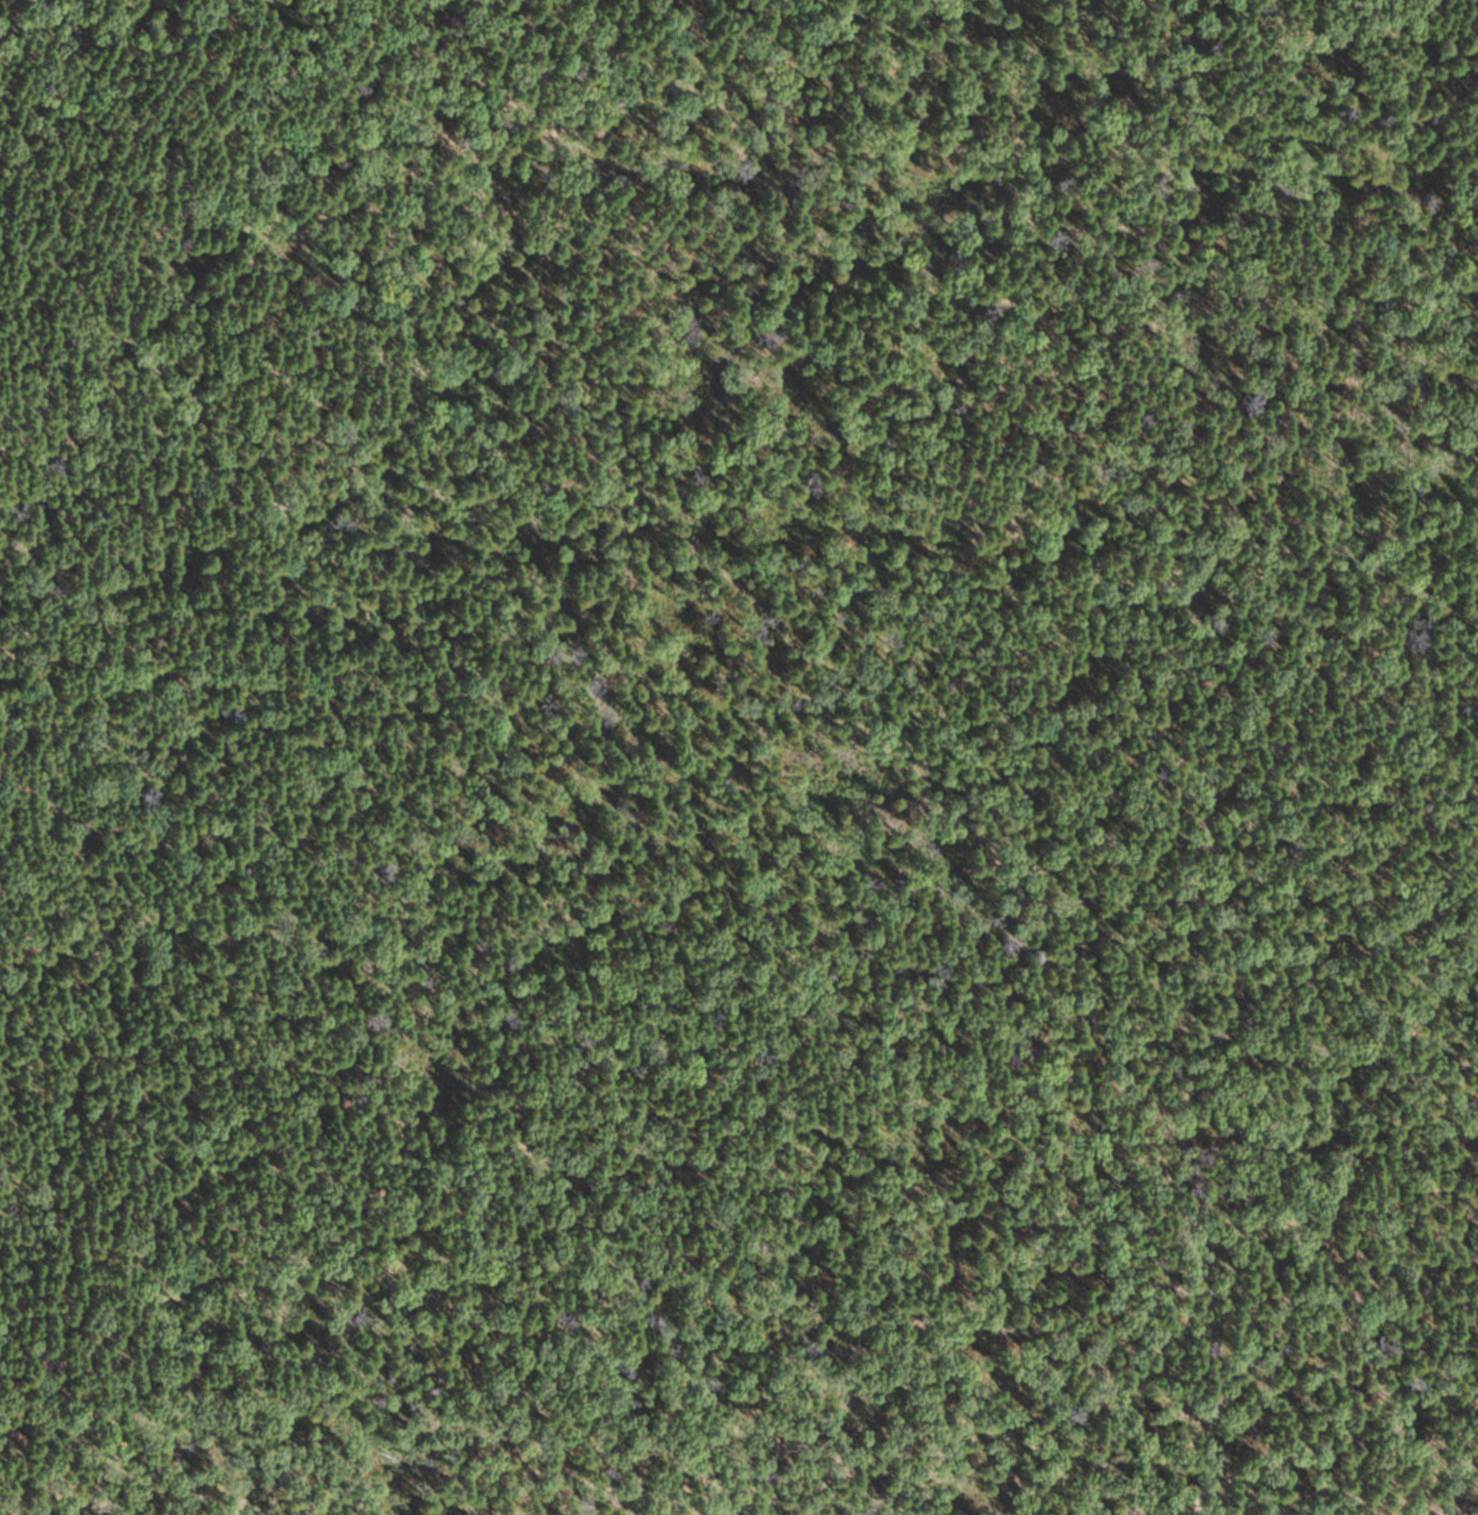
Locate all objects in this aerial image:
road: (882, 735)

